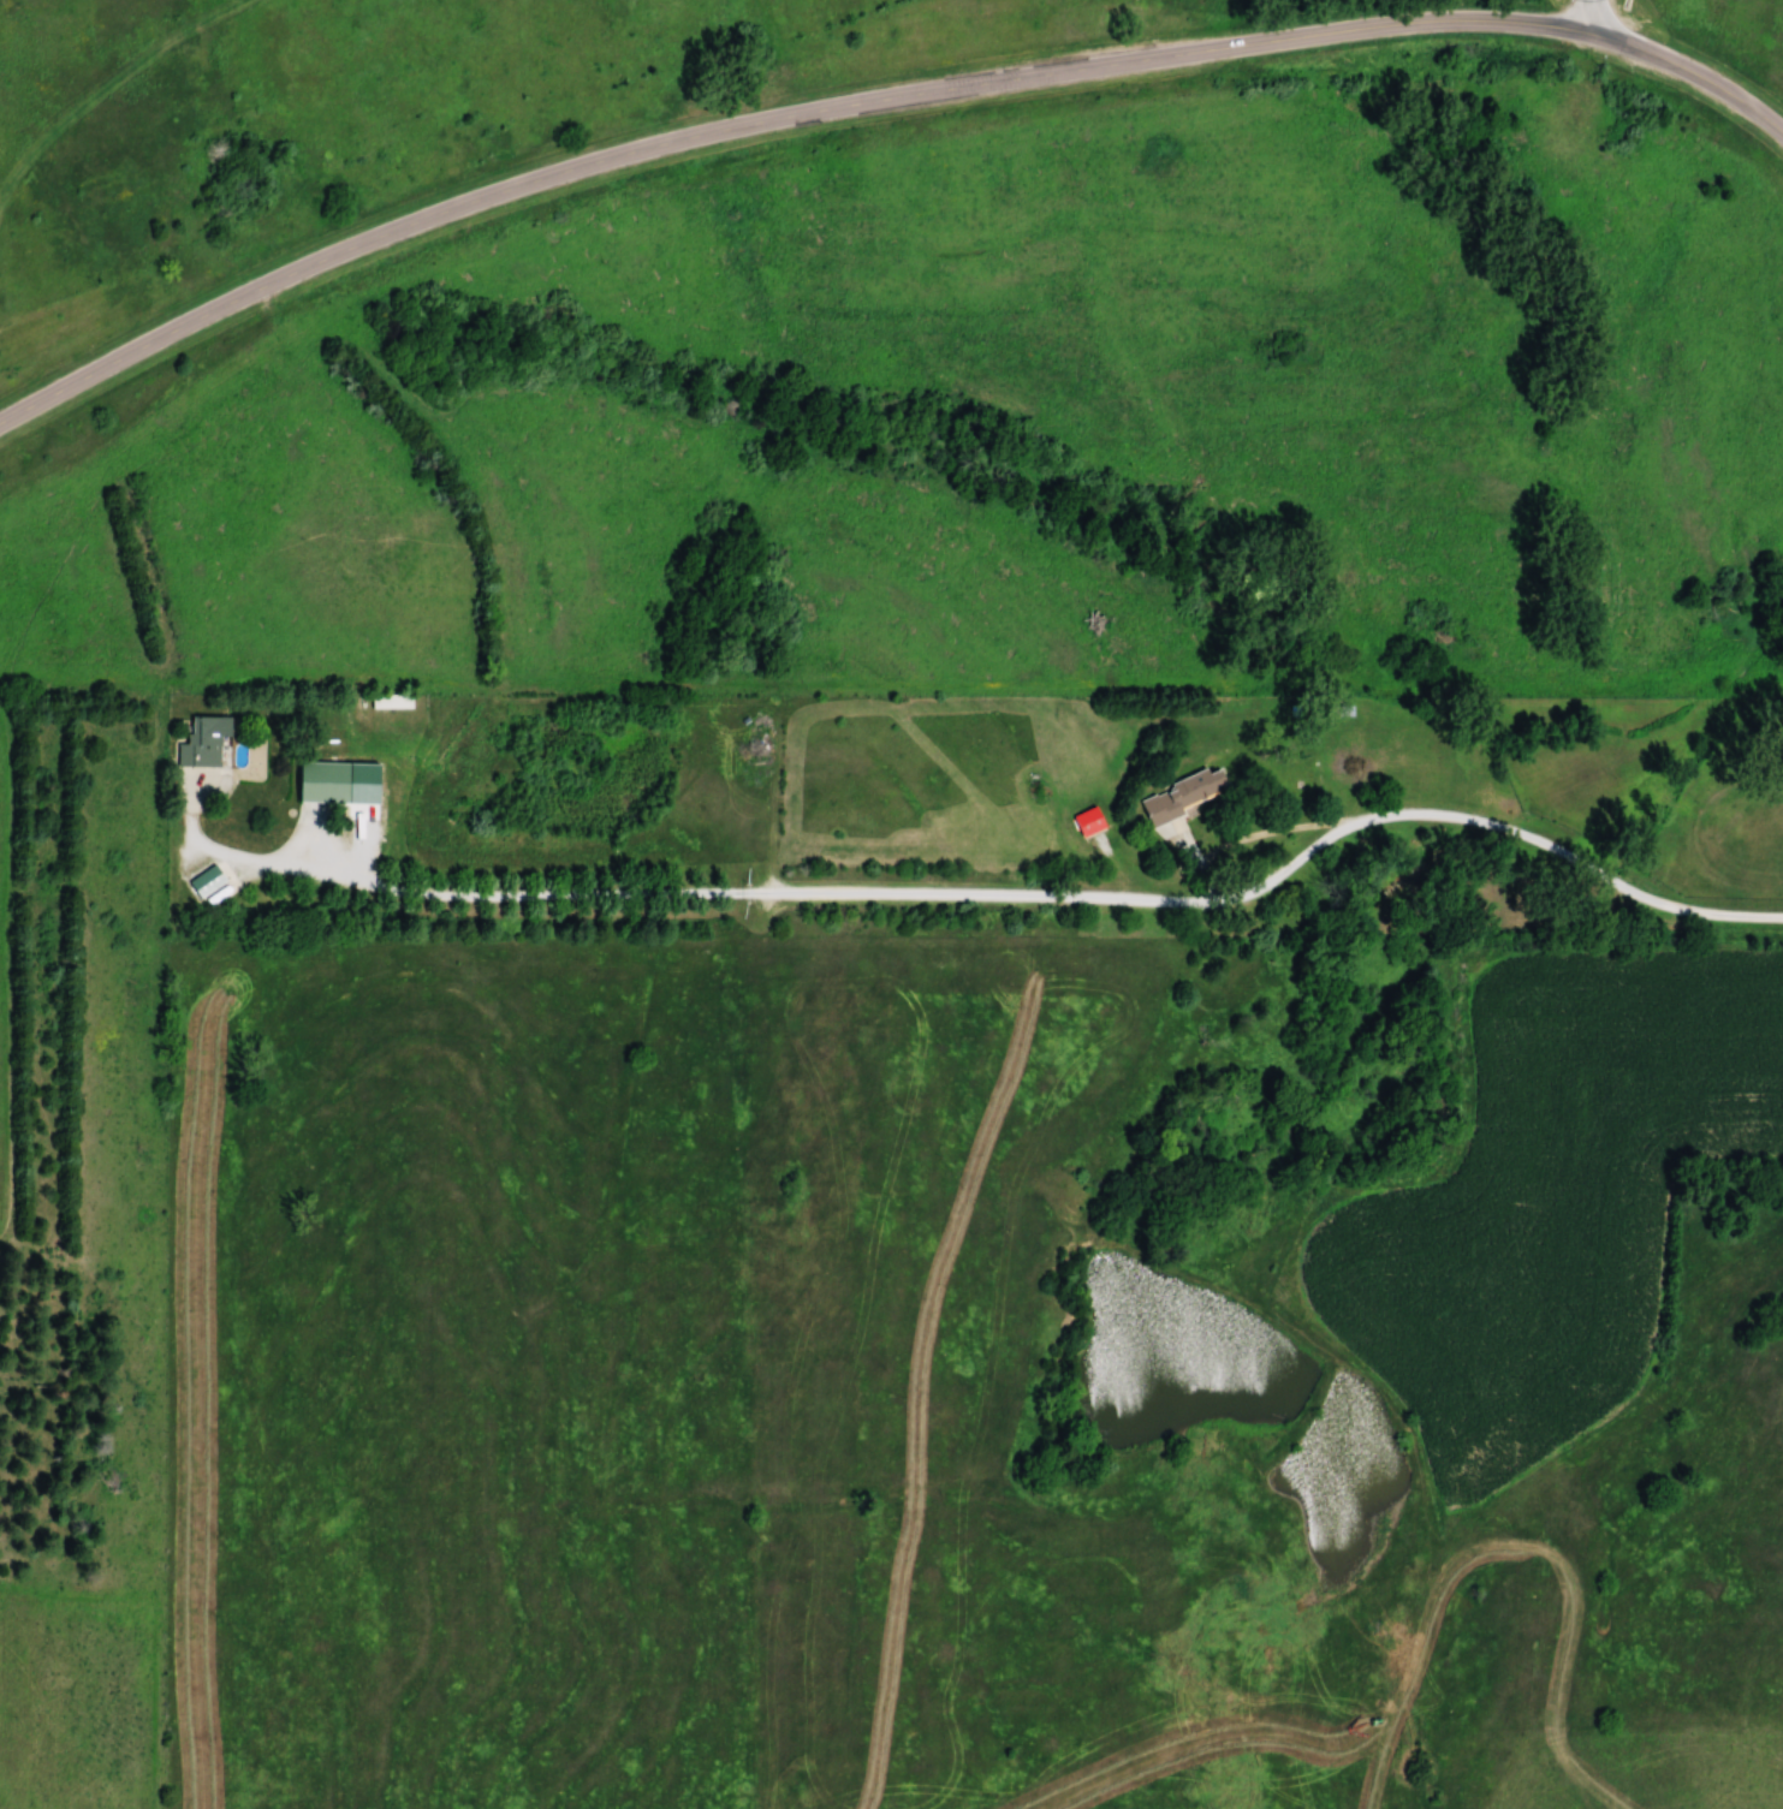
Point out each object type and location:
road: (1589, 18)
road: (1692, 72)
road: (108, 89)
road: (768, 117)
park: (456, 118)
building: (206, 742)
building: (326, 782)
building: (1184, 796)
road: (1288, 869)
building: (208, 881)
road: (450, 897)

